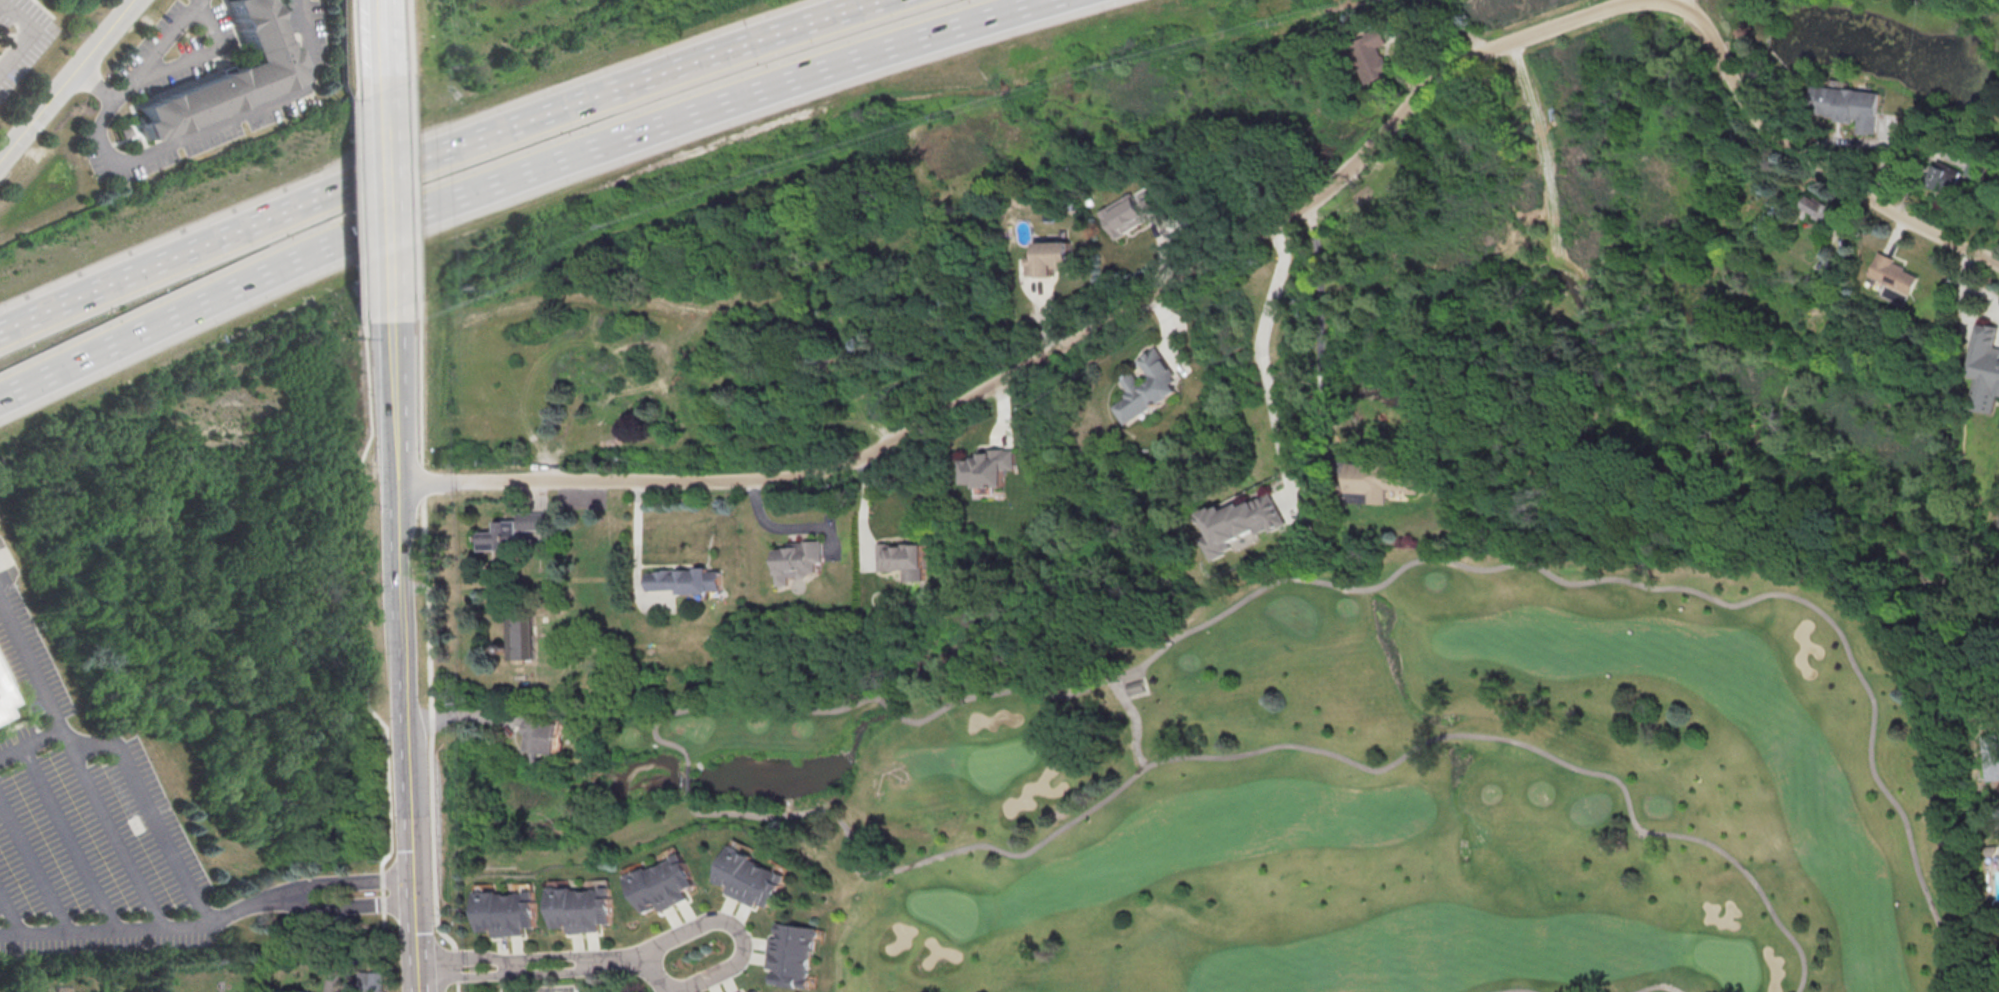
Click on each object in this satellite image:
road: (1680, 1)
road: (1631, 2)
road: (1608, 8)
road: (1696, 18)
road: (32, 36)
road: (407, 37)
road: (355, 38)
road: (382, 39)
road: (160, 48)
road: (1492, 49)
building: (1369, 55)
road: (1721, 55)
building: (235, 77)
road: (100, 81)
road: (67, 83)
building: (1848, 105)
road: (1393, 119)
road: (222, 124)
road: (1545, 149)
road: (438, 155)
road: (515, 177)
building: (1946, 178)
road: (1846, 180)
road: (387, 194)
road: (412, 197)
road: (360, 198)
building: (1129, 213)
building: (1048, 257)
road: (1539, 265)
building: (1892, 274)
road: (1320, 286)
road: (1274, 296)
road: (1581, 313)
building: (1983, 368)
road: (1268, 377)
road: (1323, 380)
building: (1143, 385)
road: (930, 418)
road: (1329, 426)
road: (1284, 444)
building: (985, 467)
building: (1388, 480)
road: (863, 511)
building: (532, 521)
building: (1241, 523)
road: (787, 527)
building: (500, 536)
road: (637, 553)
building: (798, 559)
building: (905, 559)
road: (1547, 574)
building: (685, 580)
road: (365, 616)
building: (520, 637)
road: (406, 650)
road: (428, 659)
building: (1139, 687)
building: (1, 701)
road: (736, 703)
road: (890, 708)
building: (1, 716)
road: (1135, 723)
building: (542, 736)
road: (30, 744)
road: (116, 744)
road: (1271, 748)
building: (1991, 756)
road: (687, 779)
park: (1347, 792)
parking lot: (85, 827)
road: (113, 832)
road: (69, 839)
road: (35, 863)
building: (753, 873)
road: (351, 879)
building: (663, 882)
traffic signals: (415, 890)
road: (248, 904)
road: (353, 905)
building: (583, 905)
building: (506, 909)
road: (11, 914)
road: (735, 925)
road: (104, 931)
building: (791, 952)
road: (508, 956)
road: (639, 960)
road: (509, 971)
building: (369, 980)
road: (1656, 987)
building: (736, 989)
building: (756, 991)

